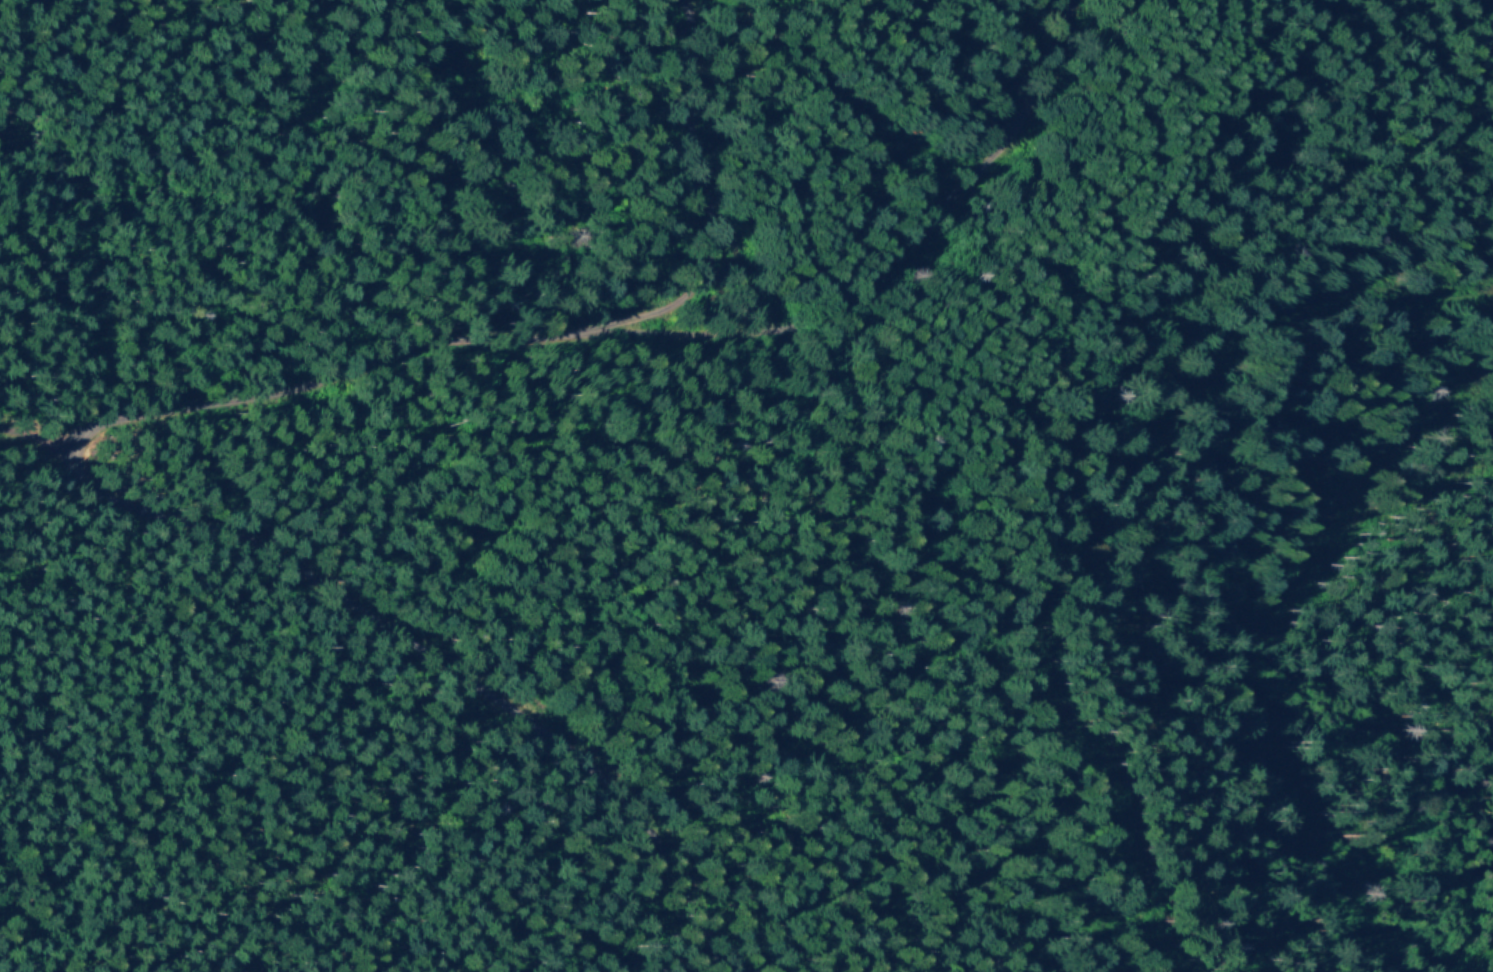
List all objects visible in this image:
road: (167, 422)

